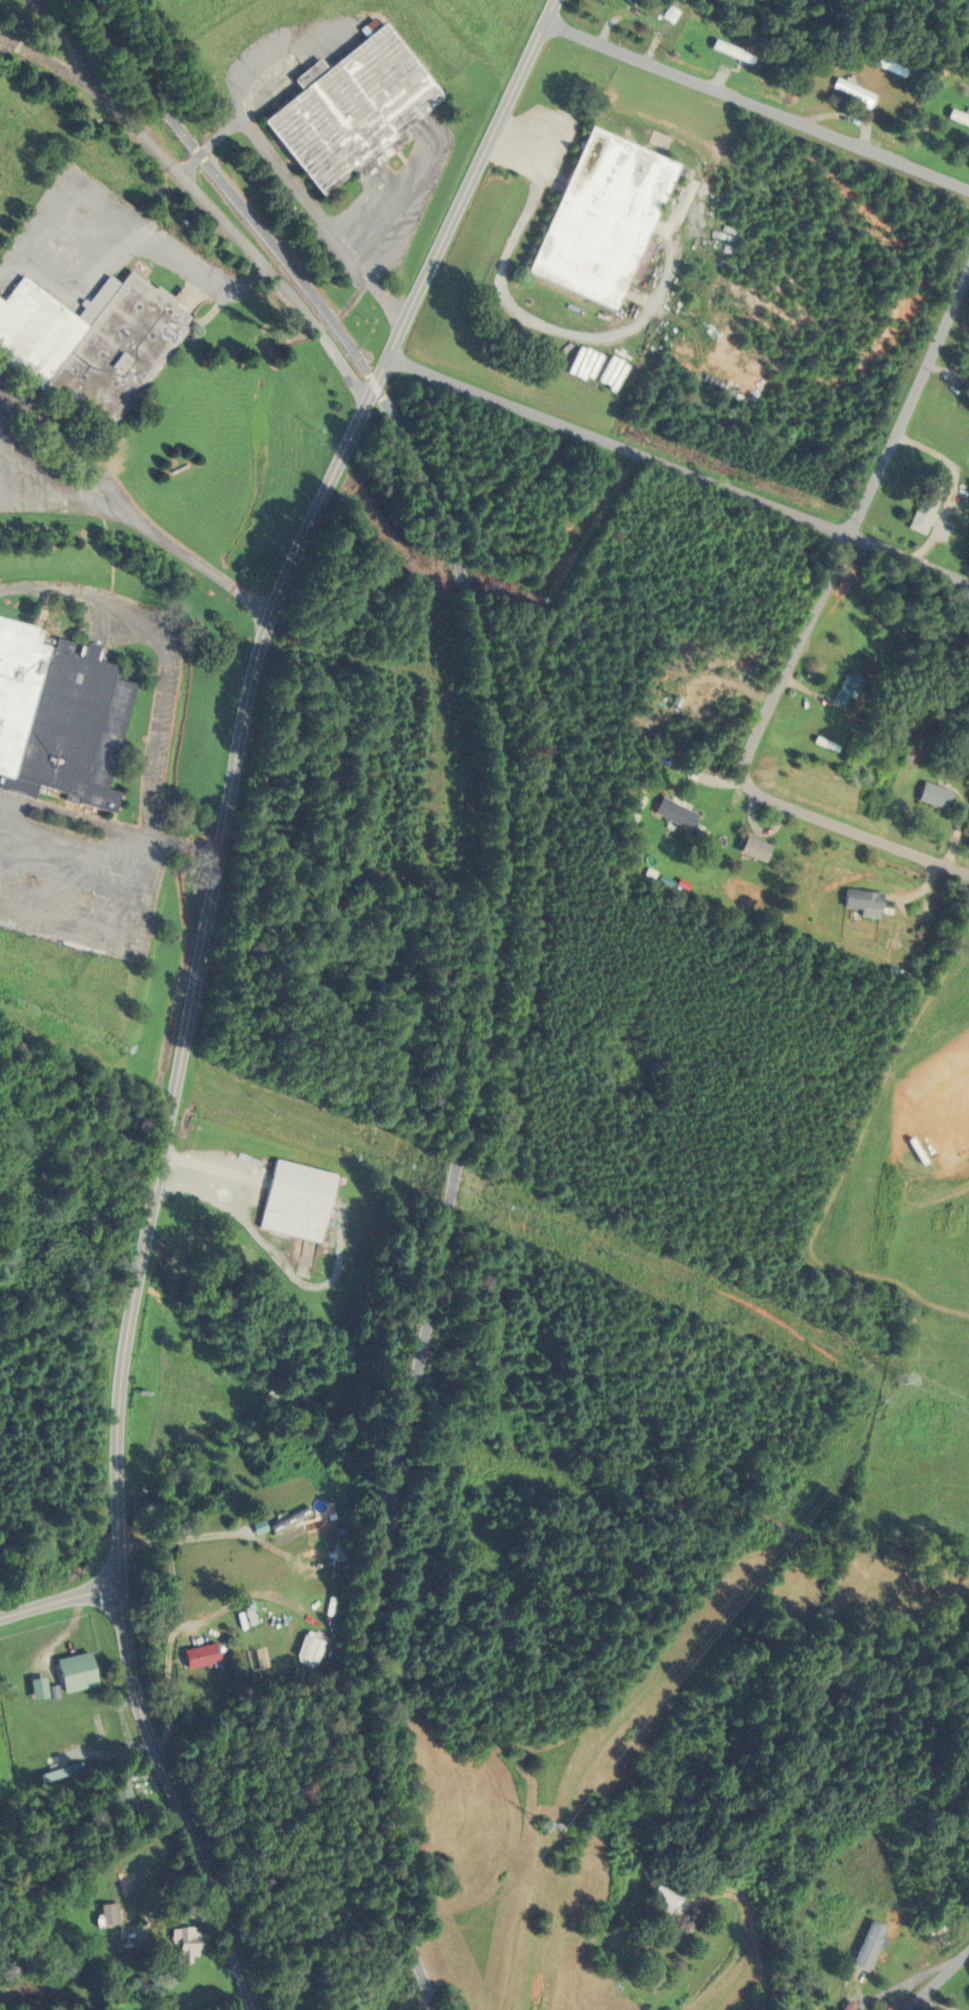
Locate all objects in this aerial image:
building: (629, 0)
building: (725, 50)
building: (848, 90)
building: (359, 103)
road: (756, 110)
building: (956, 117)
road: (209, 147)
road: (279, 169)
road: (231, 190)
road: (465, 192)
road: (402, 202)
road: (119, 208)
building: (612, 216)
road: (241, 237)
road: (507, 295)
building: (92, 347)
building: (967, 372)
road: (910, 402)
road: (678, 469)
road: (955, 486)
road: (561, 487)
building: (927, 501)
road: (145, 527)
road: (163, 650)
road: (796, 659)
building: (846, 688)
building: (62, 701)
building: (966, 767)
building: (931, 795)
building: (672, 813)
road: (855, 823)
road: (4, 826)
road: (109, 826)
building: (751, 849)
road: (214, 882)
road: (502, 885)
building: (860, 900)
road: (115, 930)
road: (523, 1011)
road: (211, 1169)
building: (301, 1199)
road: (406, 1408)
road: (117, 1456)
road: (118, 1522)
road: (60, 1600)
building: (246, 1612)
building: (198, 1655)
building: (72, 1671)
road: (357, 1716)
building: (97, 1728)
building: (59, 1773)
road: (168, 1776)
building: (121, 1800)
building: (663, 1893)
building: (107, 1913)
road: (785, 1914)
building: (182, 1943)
road: (932, 1970)
building: (840, 2004)

